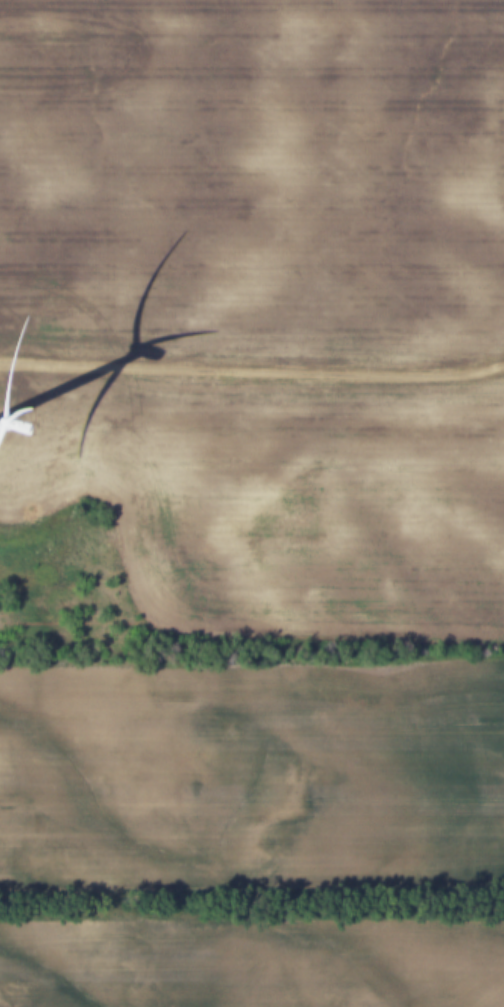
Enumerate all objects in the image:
road: (252, 372)

